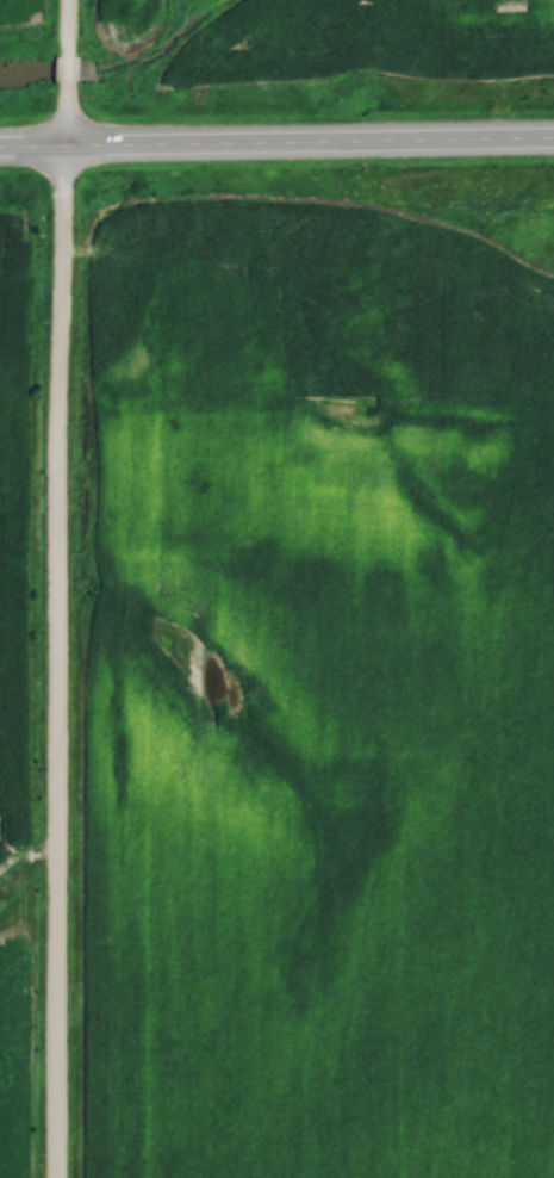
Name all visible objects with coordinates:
road: (276, 144)
road: (56, 588)

